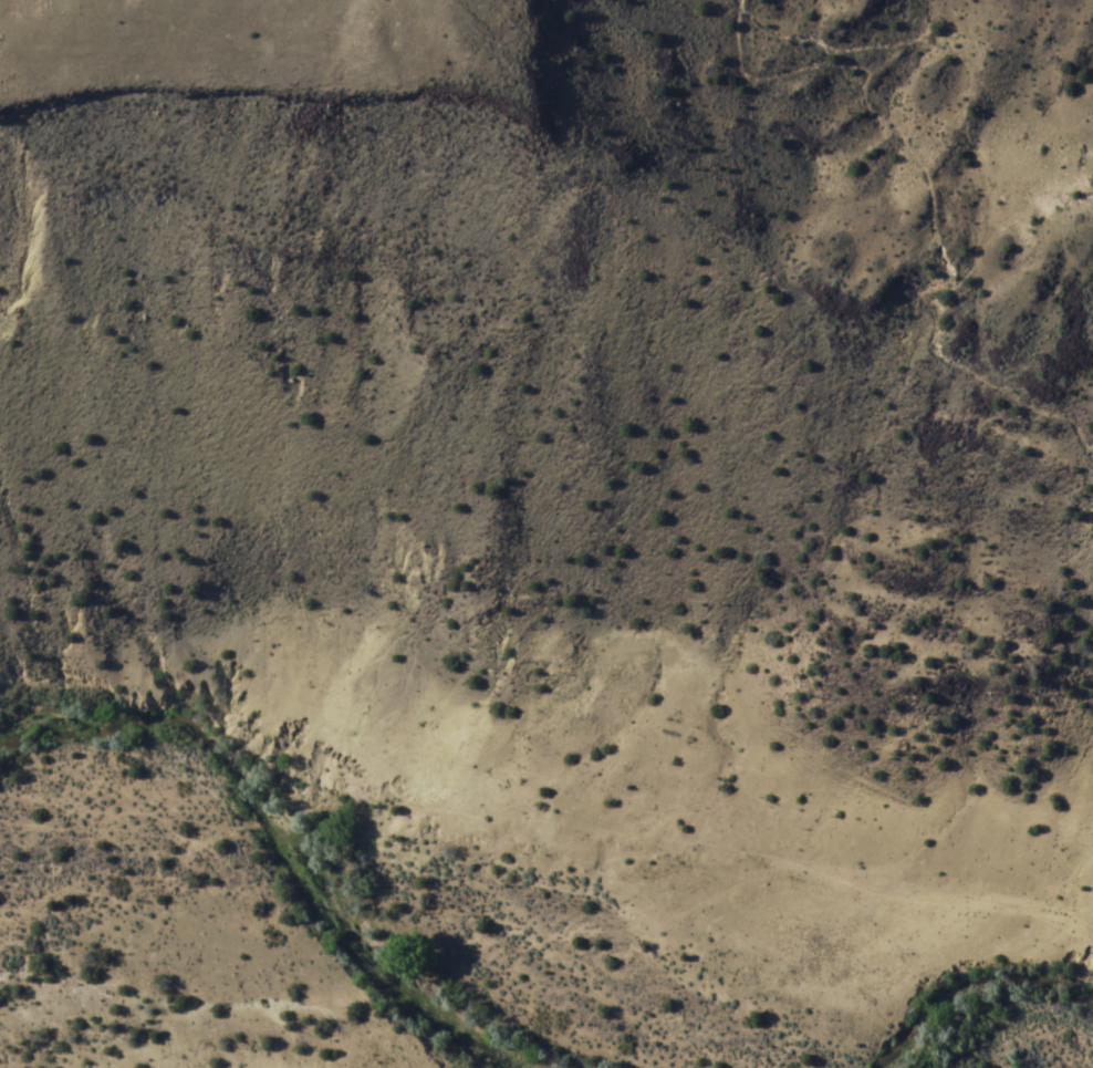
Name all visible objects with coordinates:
road: (364, 4)
road: (930, 196)
road: (1073, 552)
river: (300, 843)
road: (1085, 874)
road: (975, 975)
river: (959, 1009)

